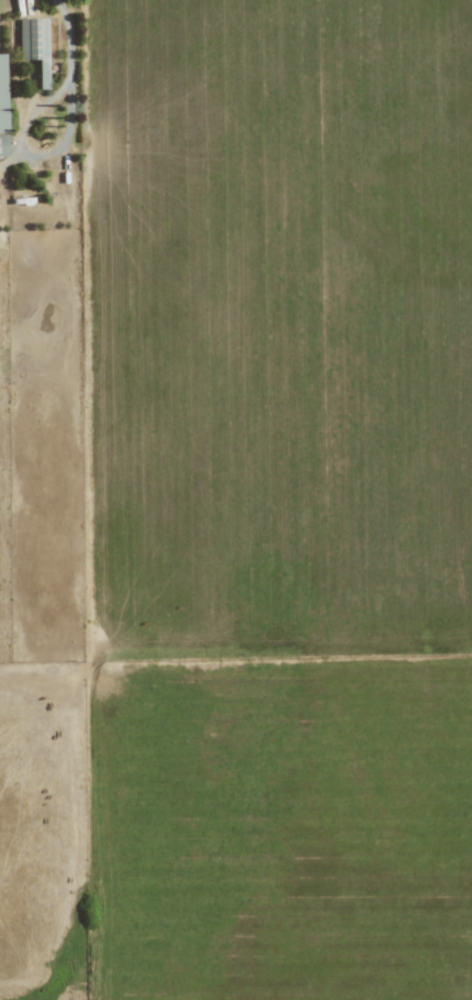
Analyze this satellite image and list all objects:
road: (71, 38)
building: (35, 45)
building: (2, 95)
building: (3, 144)
road: (33, 154)

